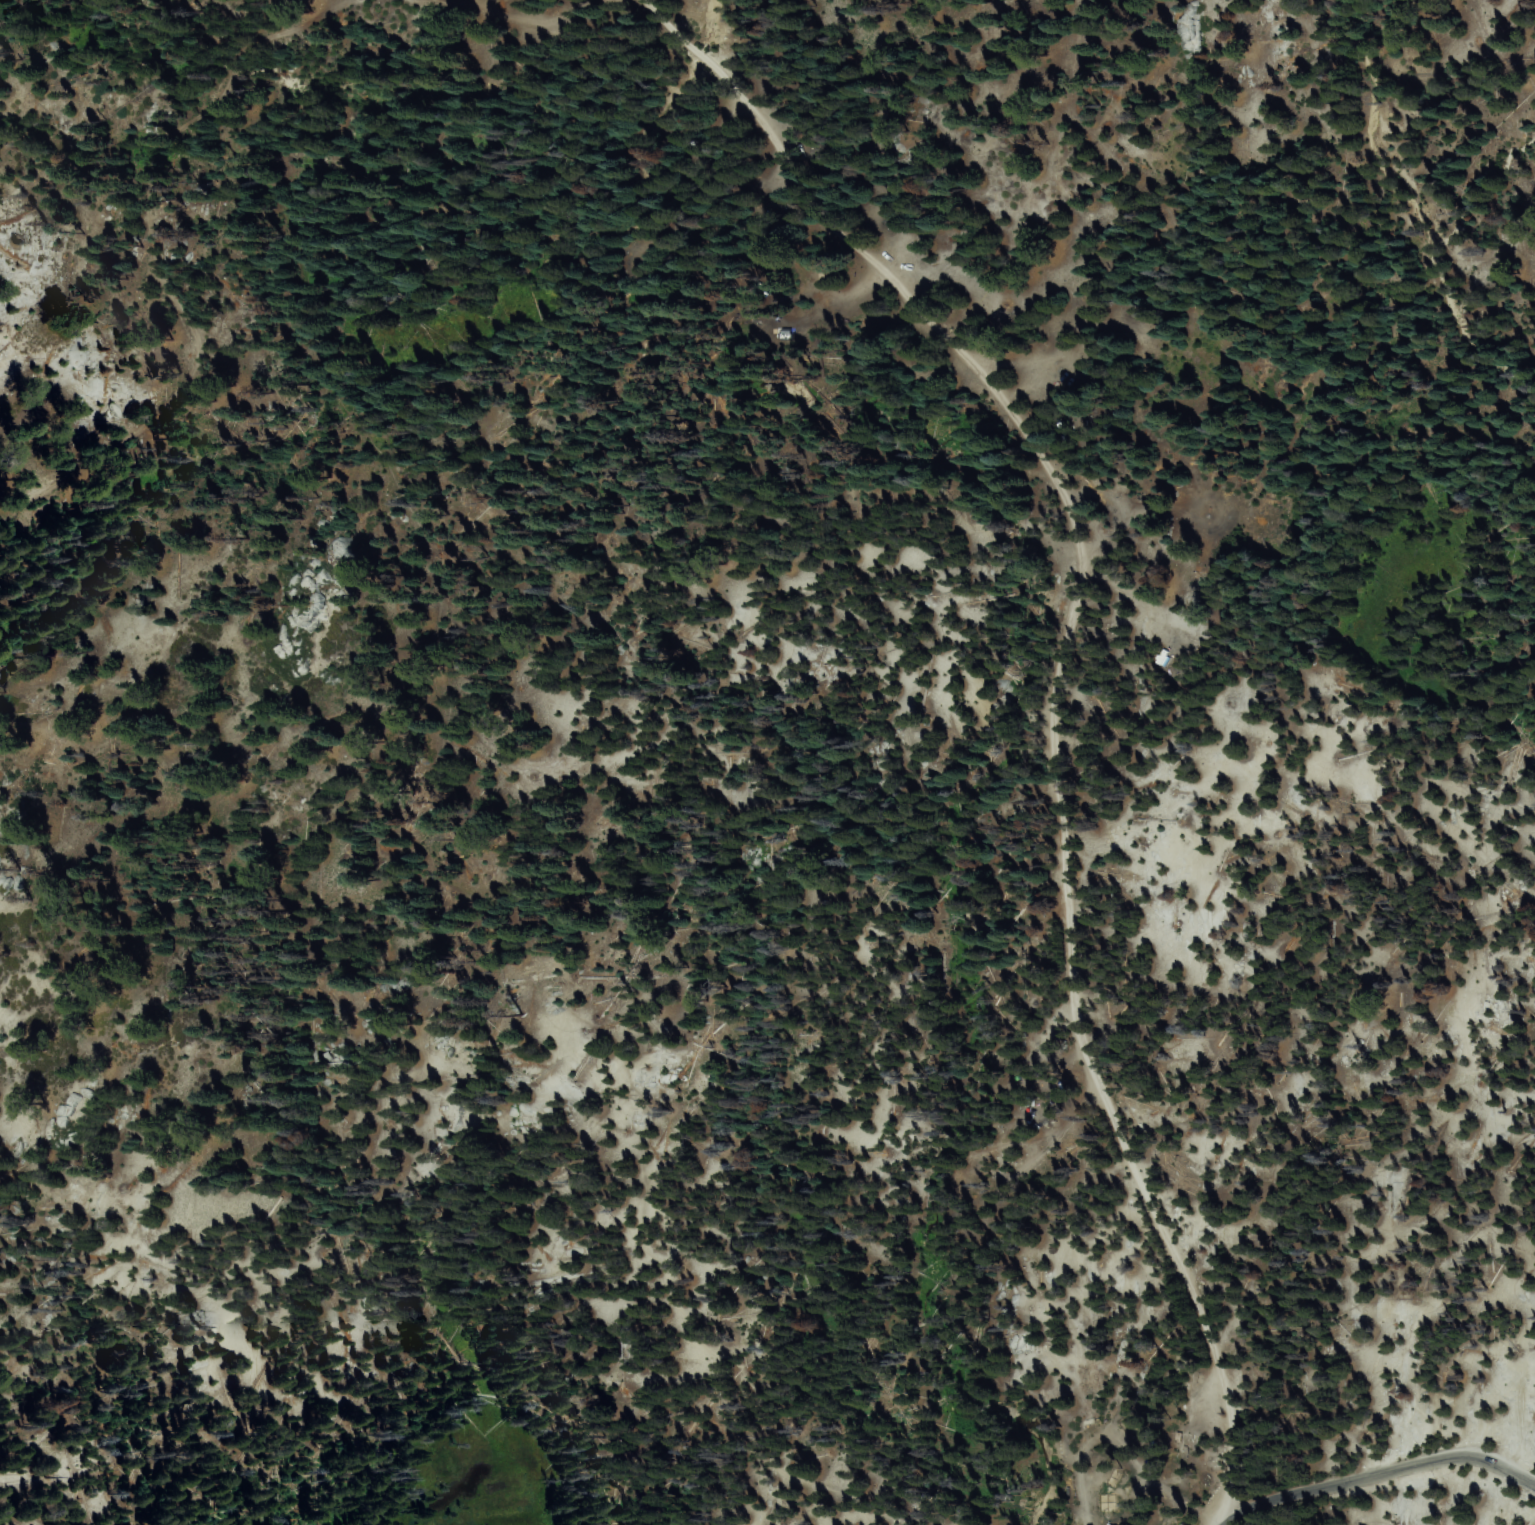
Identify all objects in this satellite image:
road: (1053, 695)
road: (1377, 1471)

